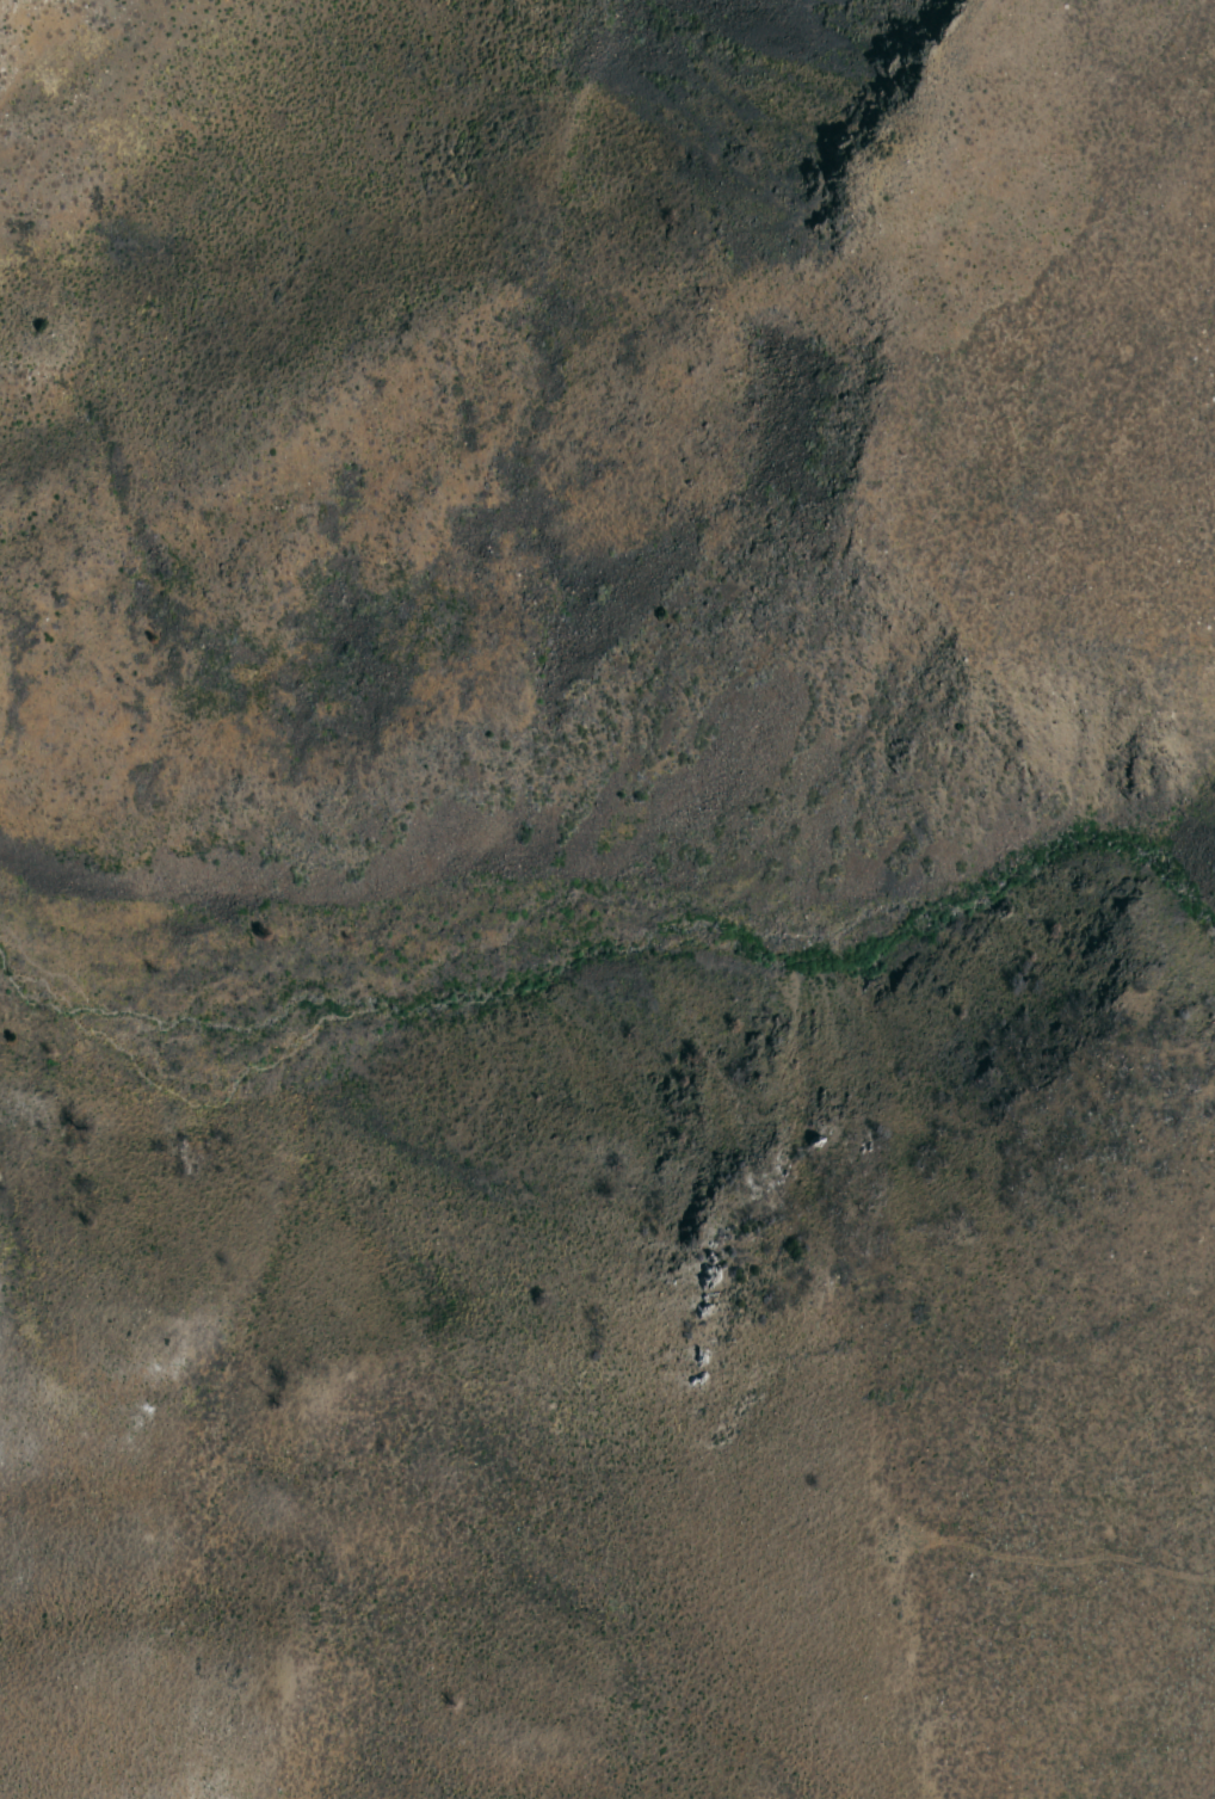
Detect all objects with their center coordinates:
road: (1060, 1560)

